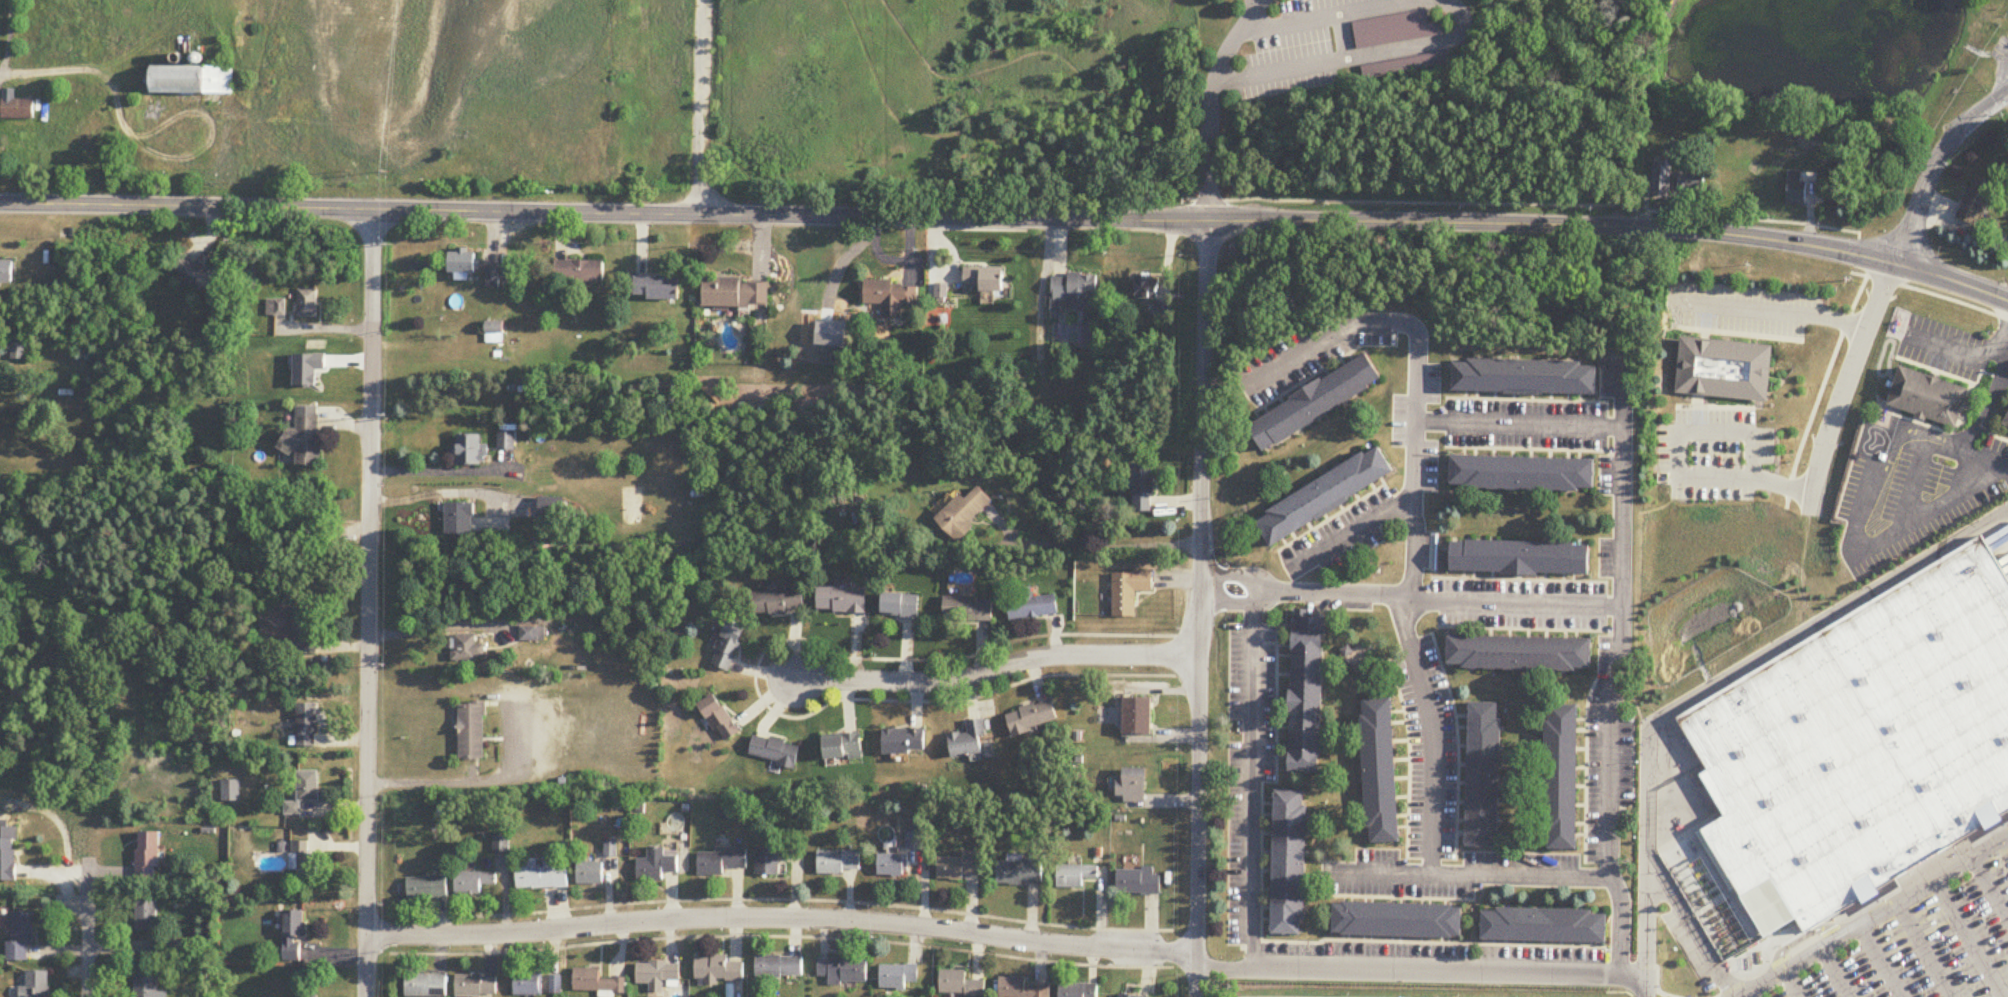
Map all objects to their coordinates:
road: (1315, 15)
building: (1396, 30)
road: (1230, 40)
parking lot: (1999, 50)
road: (1355, 56)
building: (1406, 67)
road: (78, 71)
park: (1832, 76)
road: (2004, 76)
building: (192, 80)
building: (16, 107)
road: (701, 108)
road: (1206, 152)
road: (1935, 166)
building: (1663, 177)
building: (1691, 182)
building: (1797, 188)
building: (1976, 200)
road: (1008, 219)
building: (464, 261)
building: (7, 271)
building: (580, 271)
building: (204, 276)
building: (494, 276)
building: (1145, 287)
building: (657, 288)
building: (1074, 290)
building: (736, 293)
building: (891, 297)
building: (307, 304)
building: (276, 309)
road: (1781, 310)
building: (494, 334)
road: (1956, 347)
building: (18, 352)
road: (1416, 369)
building: (1726, 370)
building: (1525, 377)
road: (1843, 387)
road: (1992, 389)
building: (1929, 397)
building: (1316, 403)
building: (2006, 424)
building: (303, 440)
building: (506, 442)
building: (471, 451)
road: (1970, 459)
road: (1673, 463)
road: (1886, 464)
building: (1523, 474)
building: (1143, 488)
building: (1324, 496)
building: (552, 509)
building: (964, 513)
road: (1927, 513)
building: (460, 520)
road: (1350, 533)
road: (1093, 548)
building: (1521, 558)
road: (1230, 577)
building: (1129, 592)
road: (1622, 600)
building: (842, 601)
road: (367, 603)
building: (779, 603)
road: (1436, 603)
road: (1229, 604)
building: (901, 606)
building: (1032, 606)
road: (1199, 609)
building: (967, 610)
road: (434, 627)
building: (303, 632)
building: (534, 632)
building: (729, 646)
building: (469, 650)
building: (1520, 654)
road: (996, 670)
building: (1306, 694)
road: (1702, 694)
building: (1136, 717)
building: (720, 719)
building: (1033, 719)
building: (308, 726)
building: (472, 732)
road: (1432, 734)
building: (905, 741)
building: (971, 742)
building: (1862, 746)
building: (843, 748)
building: (775, 751)
building: (1380, 772)
building: (1484, 776)
building: (1562, 778)
road: (463, 782)
road: (1252, 782)
building: (1133, 789)
building: (231, 791)
building: (305, 792)
road: (2001, 819)
road: (1998, 831)
building: (8, 855)
building: (721, 861)
building: (303, 862)
building: (767, 863)
building: (838, 863)
building: (1289, 863)
building: (658, 865)
building: (891, 866)
building: (960, 867)
building: (590, 874)
building: (1020, 874)
building: (1076, 877)
road: (1465, 877)
building: (540, 878)
building: (1138, 883)
building: (473, 884)
road: (1990, 888)
building: (427, 890)
building: (1709, 905)
road: (1875, 905)
building: (147, 917)
road: (1875, 918)
road: (780, 919)
building: (1398, 921)
road: (1646, 923)
building: (1544, 927)
building: (295, 936)
building: (22, 937)
road: (1969, 939)
road: (89, 946)
building: (165, 950)
road: (1797, 951)
road: (1924, 951)
road: (1880, 962)
building: (778, 968)
road: (1777, 969)
building: (719, 971)
building: (843, 972)
road: (1836, 973)
road: (1421, 974)
building: (658, 976)
building: (897, 977)
road: (1657, 982)
building: (596, 983)
road: (1791, 984)
building: (37, 985)
building: (147, 985)
building: (528, 985)
building: (959, 985)
building: (426, 986)
building: (476, 986)
building: (556, 986)
building: (1020, 989)
building: (1078, 990)
building: (308, 996)
building: (1125, 996)
road: (1664, 996)
road: (1747, 996)

